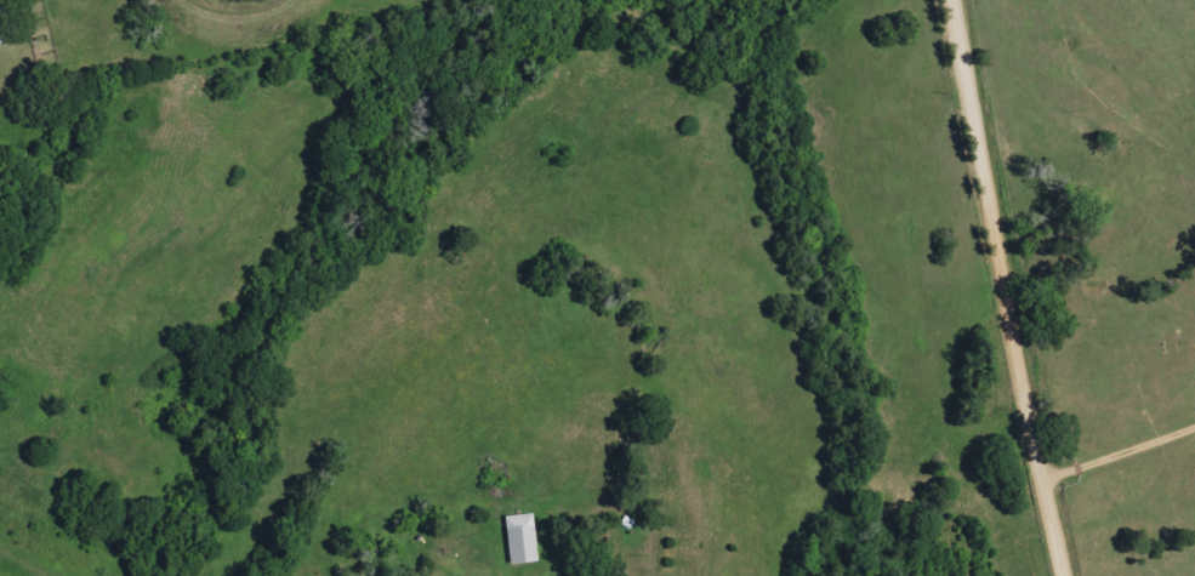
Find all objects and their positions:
road: (1009, 287)
road: (1121, 451)
building: (520, 538)

